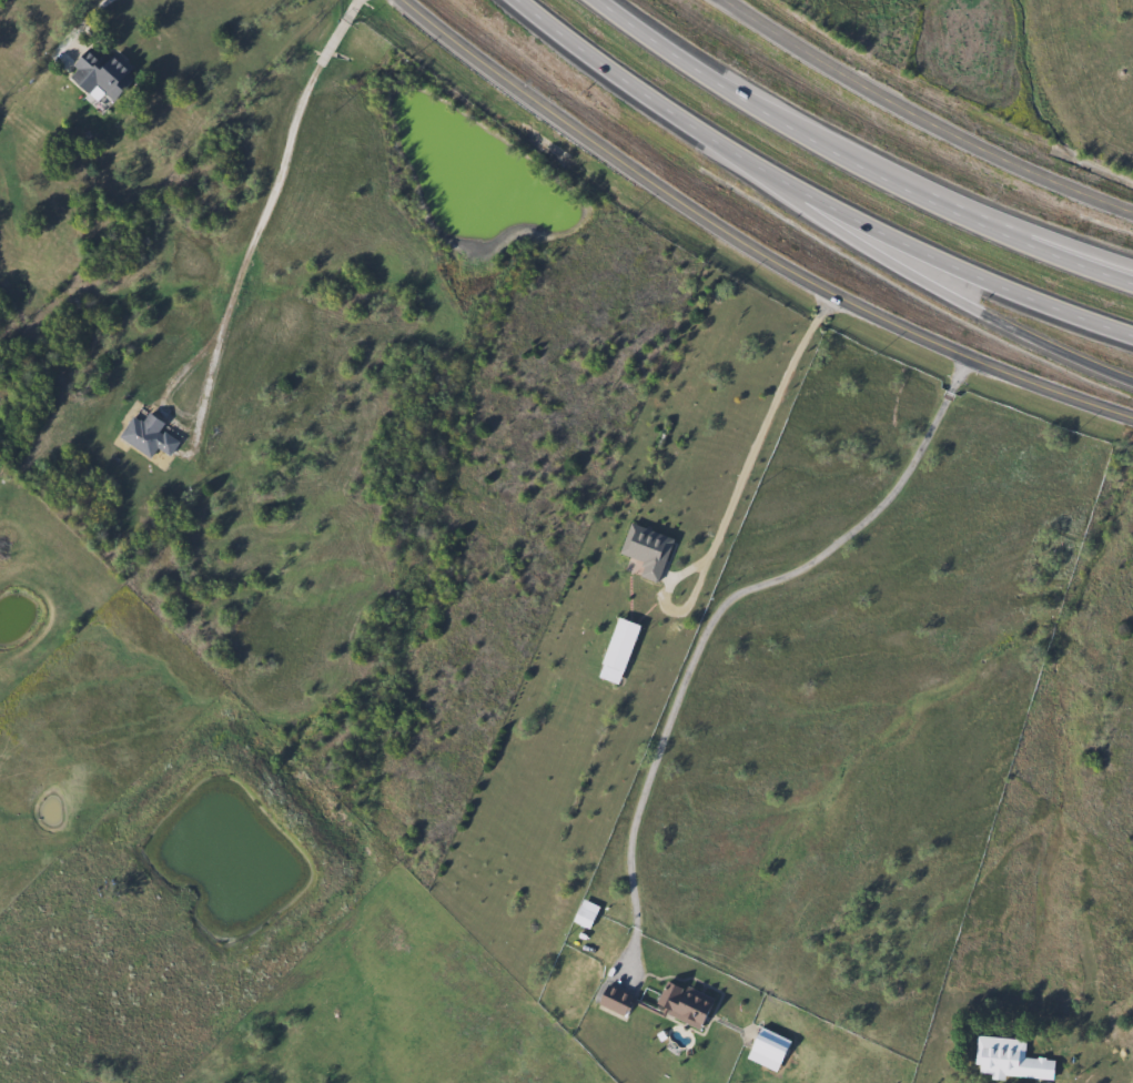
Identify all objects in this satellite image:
road: (92, 14)
building: (98, 74)
road: (643, 90)
road: (923, 118)
road: (854, 160)
road: (264, 220)
road: (1058, 240)
road: (753, 243)
road: (948, 256)
road: (941, 290)
building: (146, 436)
road: (740, 489)
building: (645, 550)
road: (720, 614)
building: (616, 649)
building: (682, 1005)
building: (610, 1006)
building: (766, 1049)
building: (1009, 1060)

